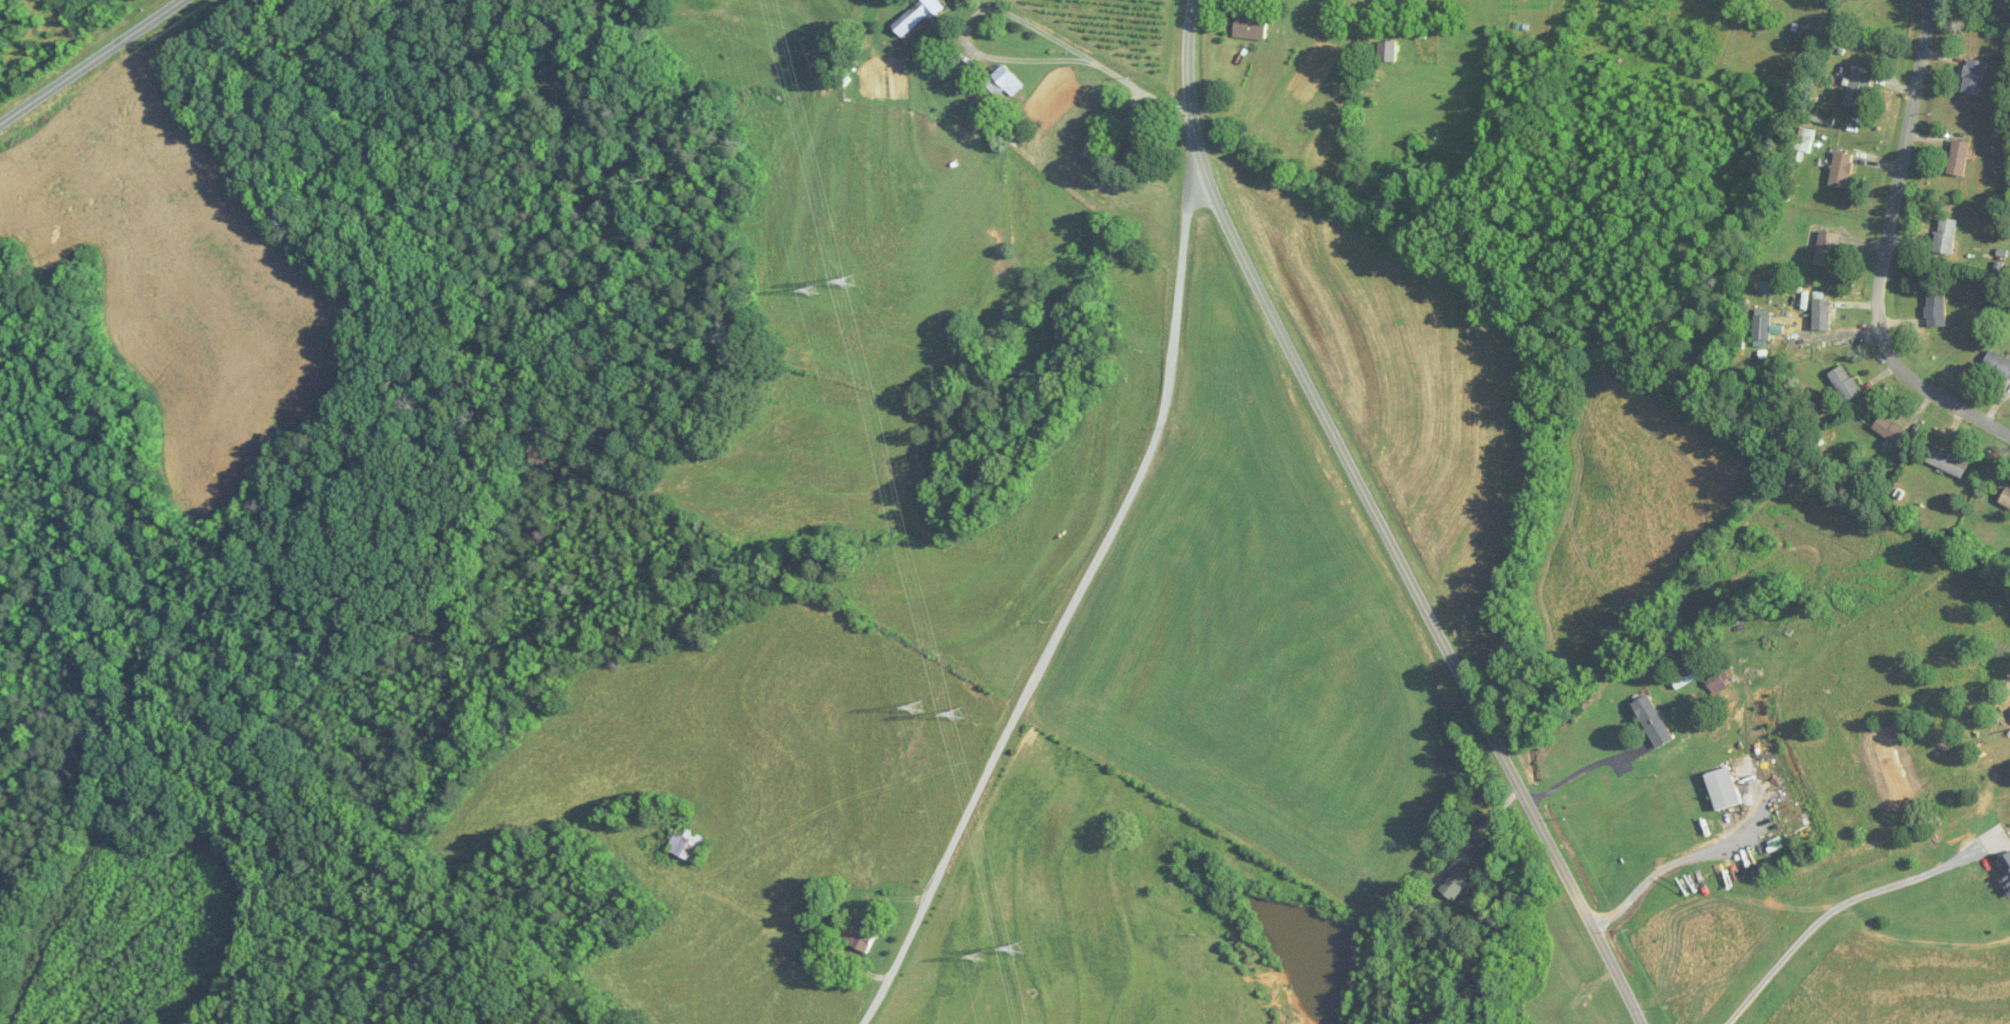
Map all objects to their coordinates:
building: (918, 17)
building: (1251, 29)
building: (1388, 52)
road: (90, 62)
building: (963, 67)
building: (1974, 77)
building: (1004, 83)
building: (1859, 90)
building: (1137, 136)
building: (1805, 141)
building: (1959, 159)
building: (1841, 171)
building: (1946, 237)
building: (1826, 249)
road: (1890, 249)
road: (1700, 284)
power tower: (849, 285)
power tower: (815, 290)
building: (1936, 310)
building: (1822, 315)
building: (1762, 326)
building: (1998, 366)
building: (1846, 385)
building: (1892, 431)
building: (1949, 462)
building: (2005, 498)
road: (1380, 522)
road: (1066, 611)
building: (1718, 683)
power tower: (919, 707)
power tower: (957, 715)
building: (1654, 721)
road: (1567, 781)
building: (1725, 789)
building: (688, 845)
road: (1648, 879)
building: (1455, 884)
road: (1822, 918)
building: (860, 936)
power tower: (1015, 949)
power tower: (982, 955)
building: (808, 959)

